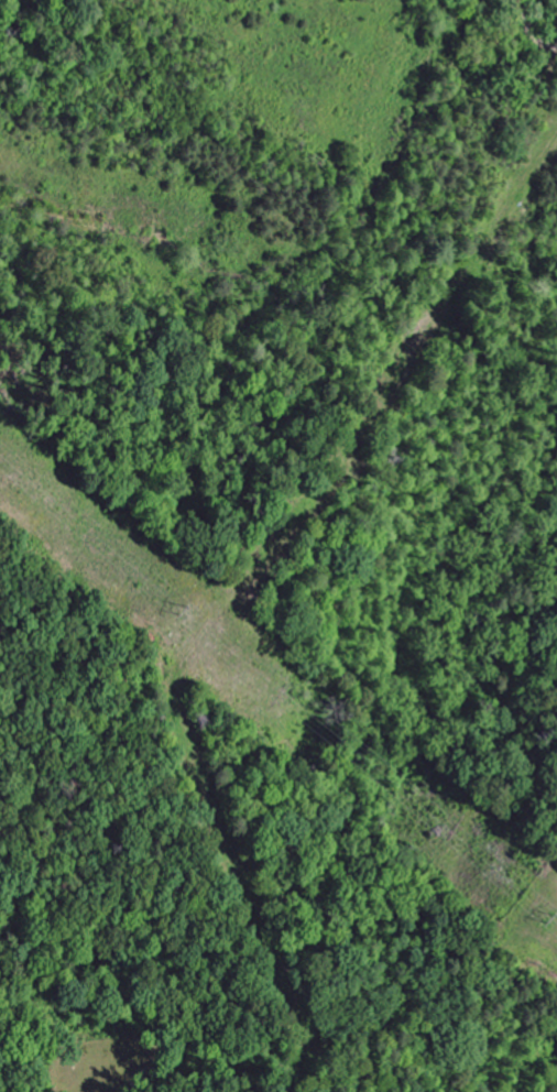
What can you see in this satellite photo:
road: (529, 26)

